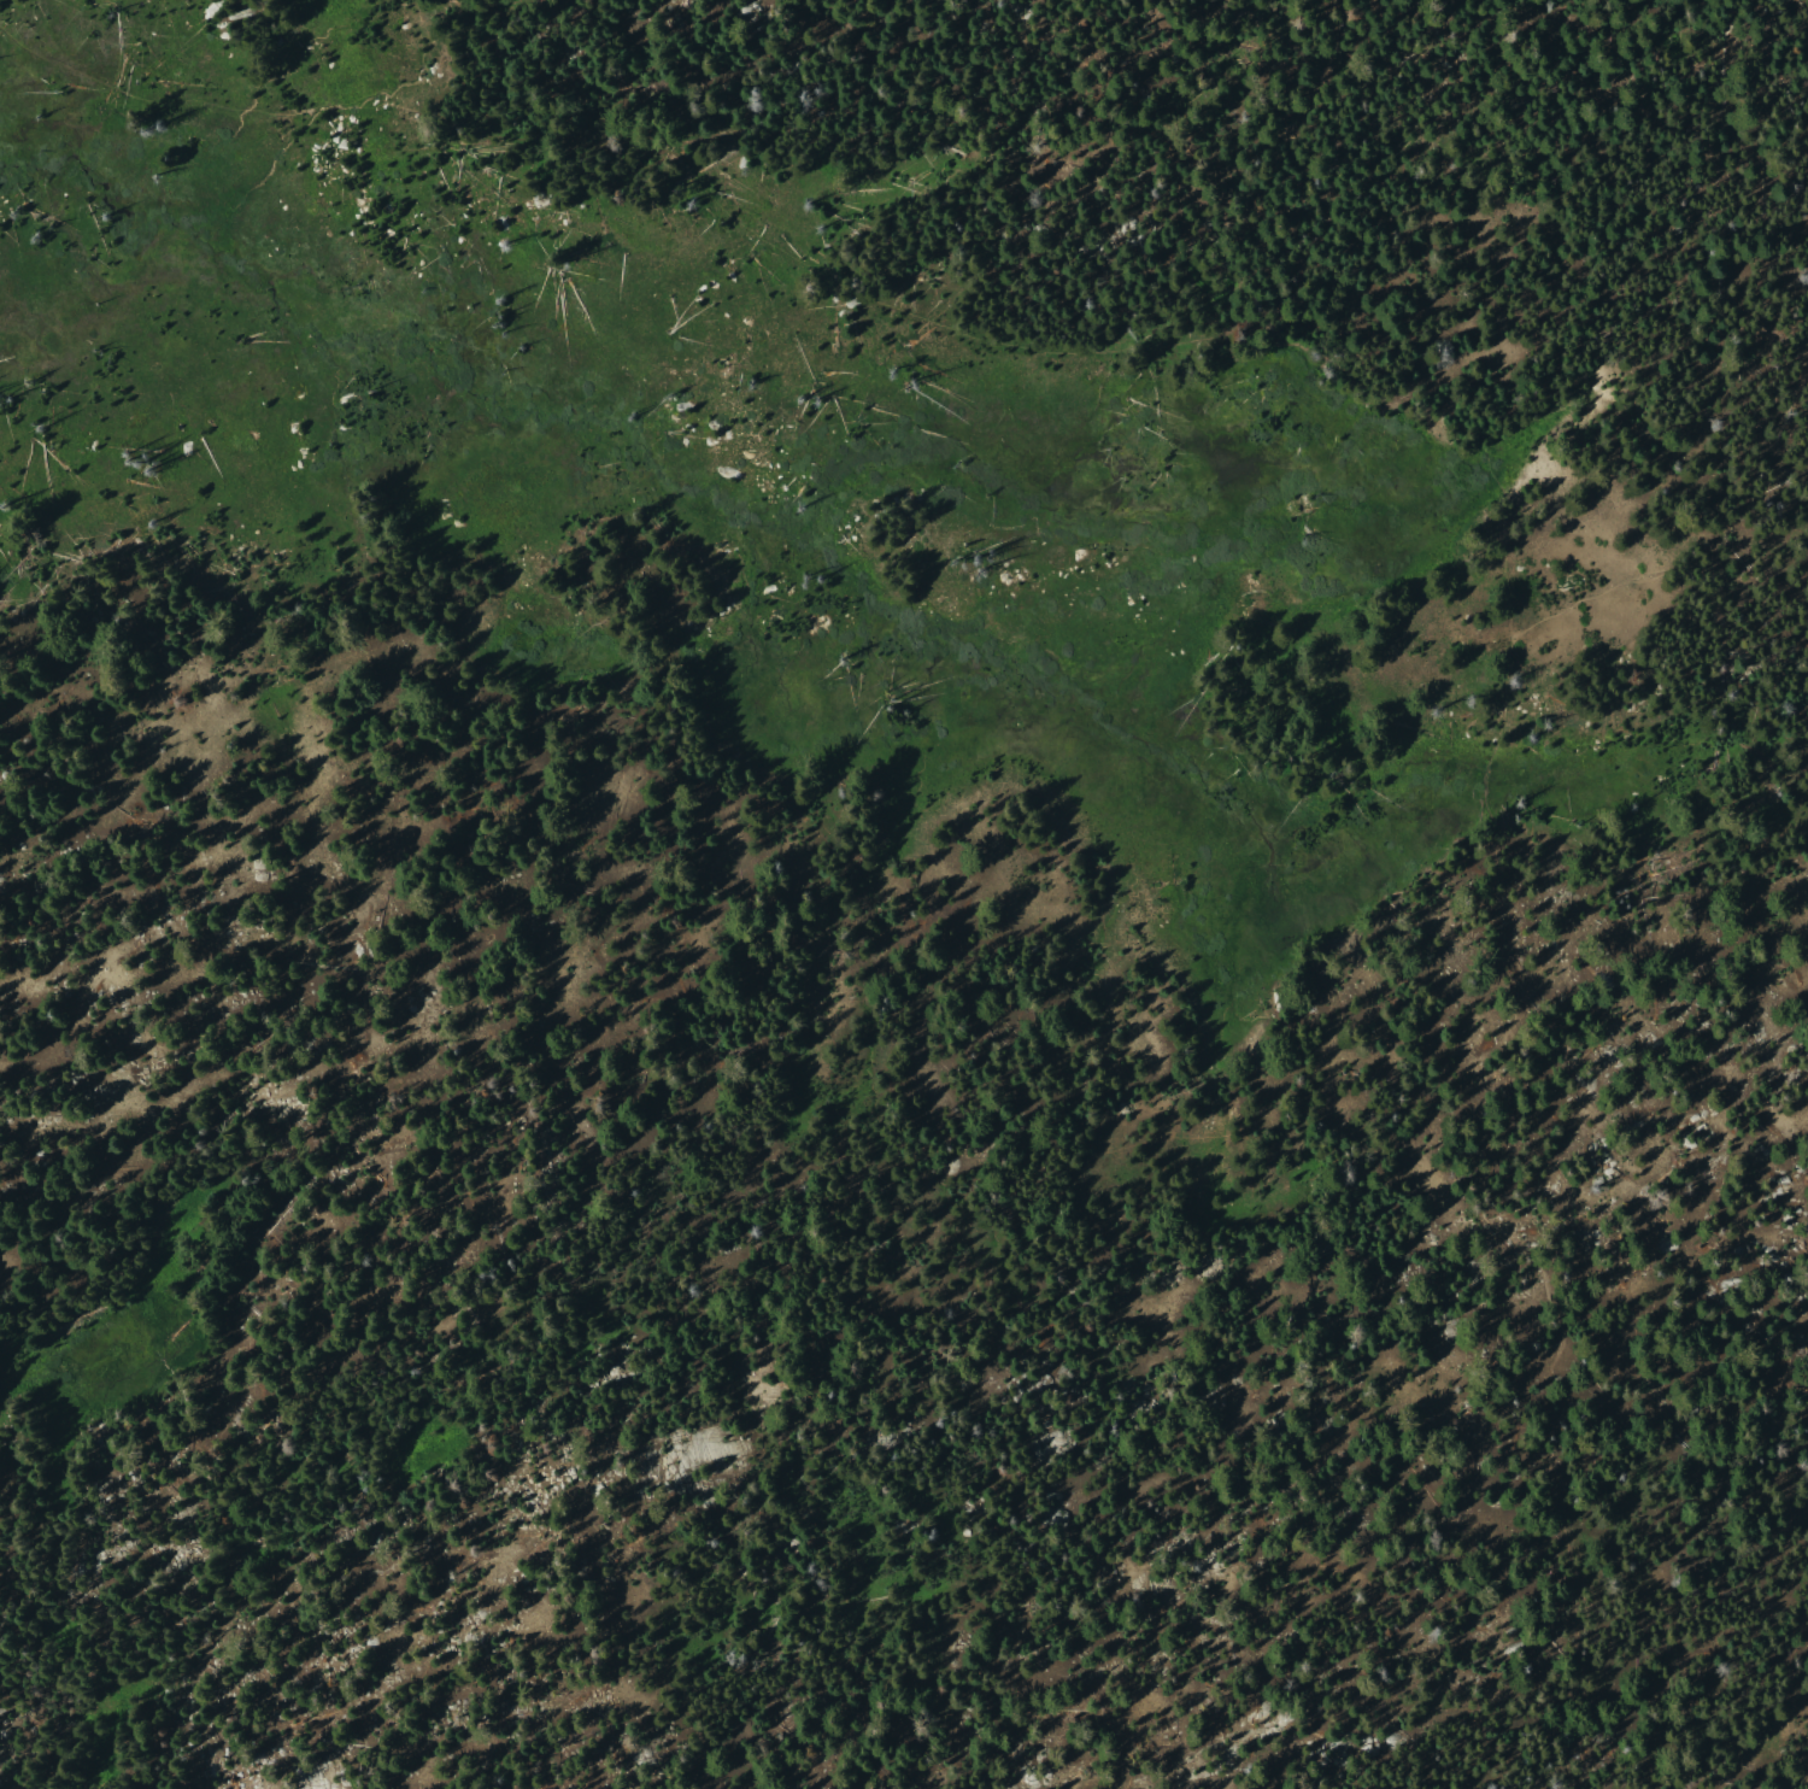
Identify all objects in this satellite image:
road: (826, 276)
road: (1495, 1064)

